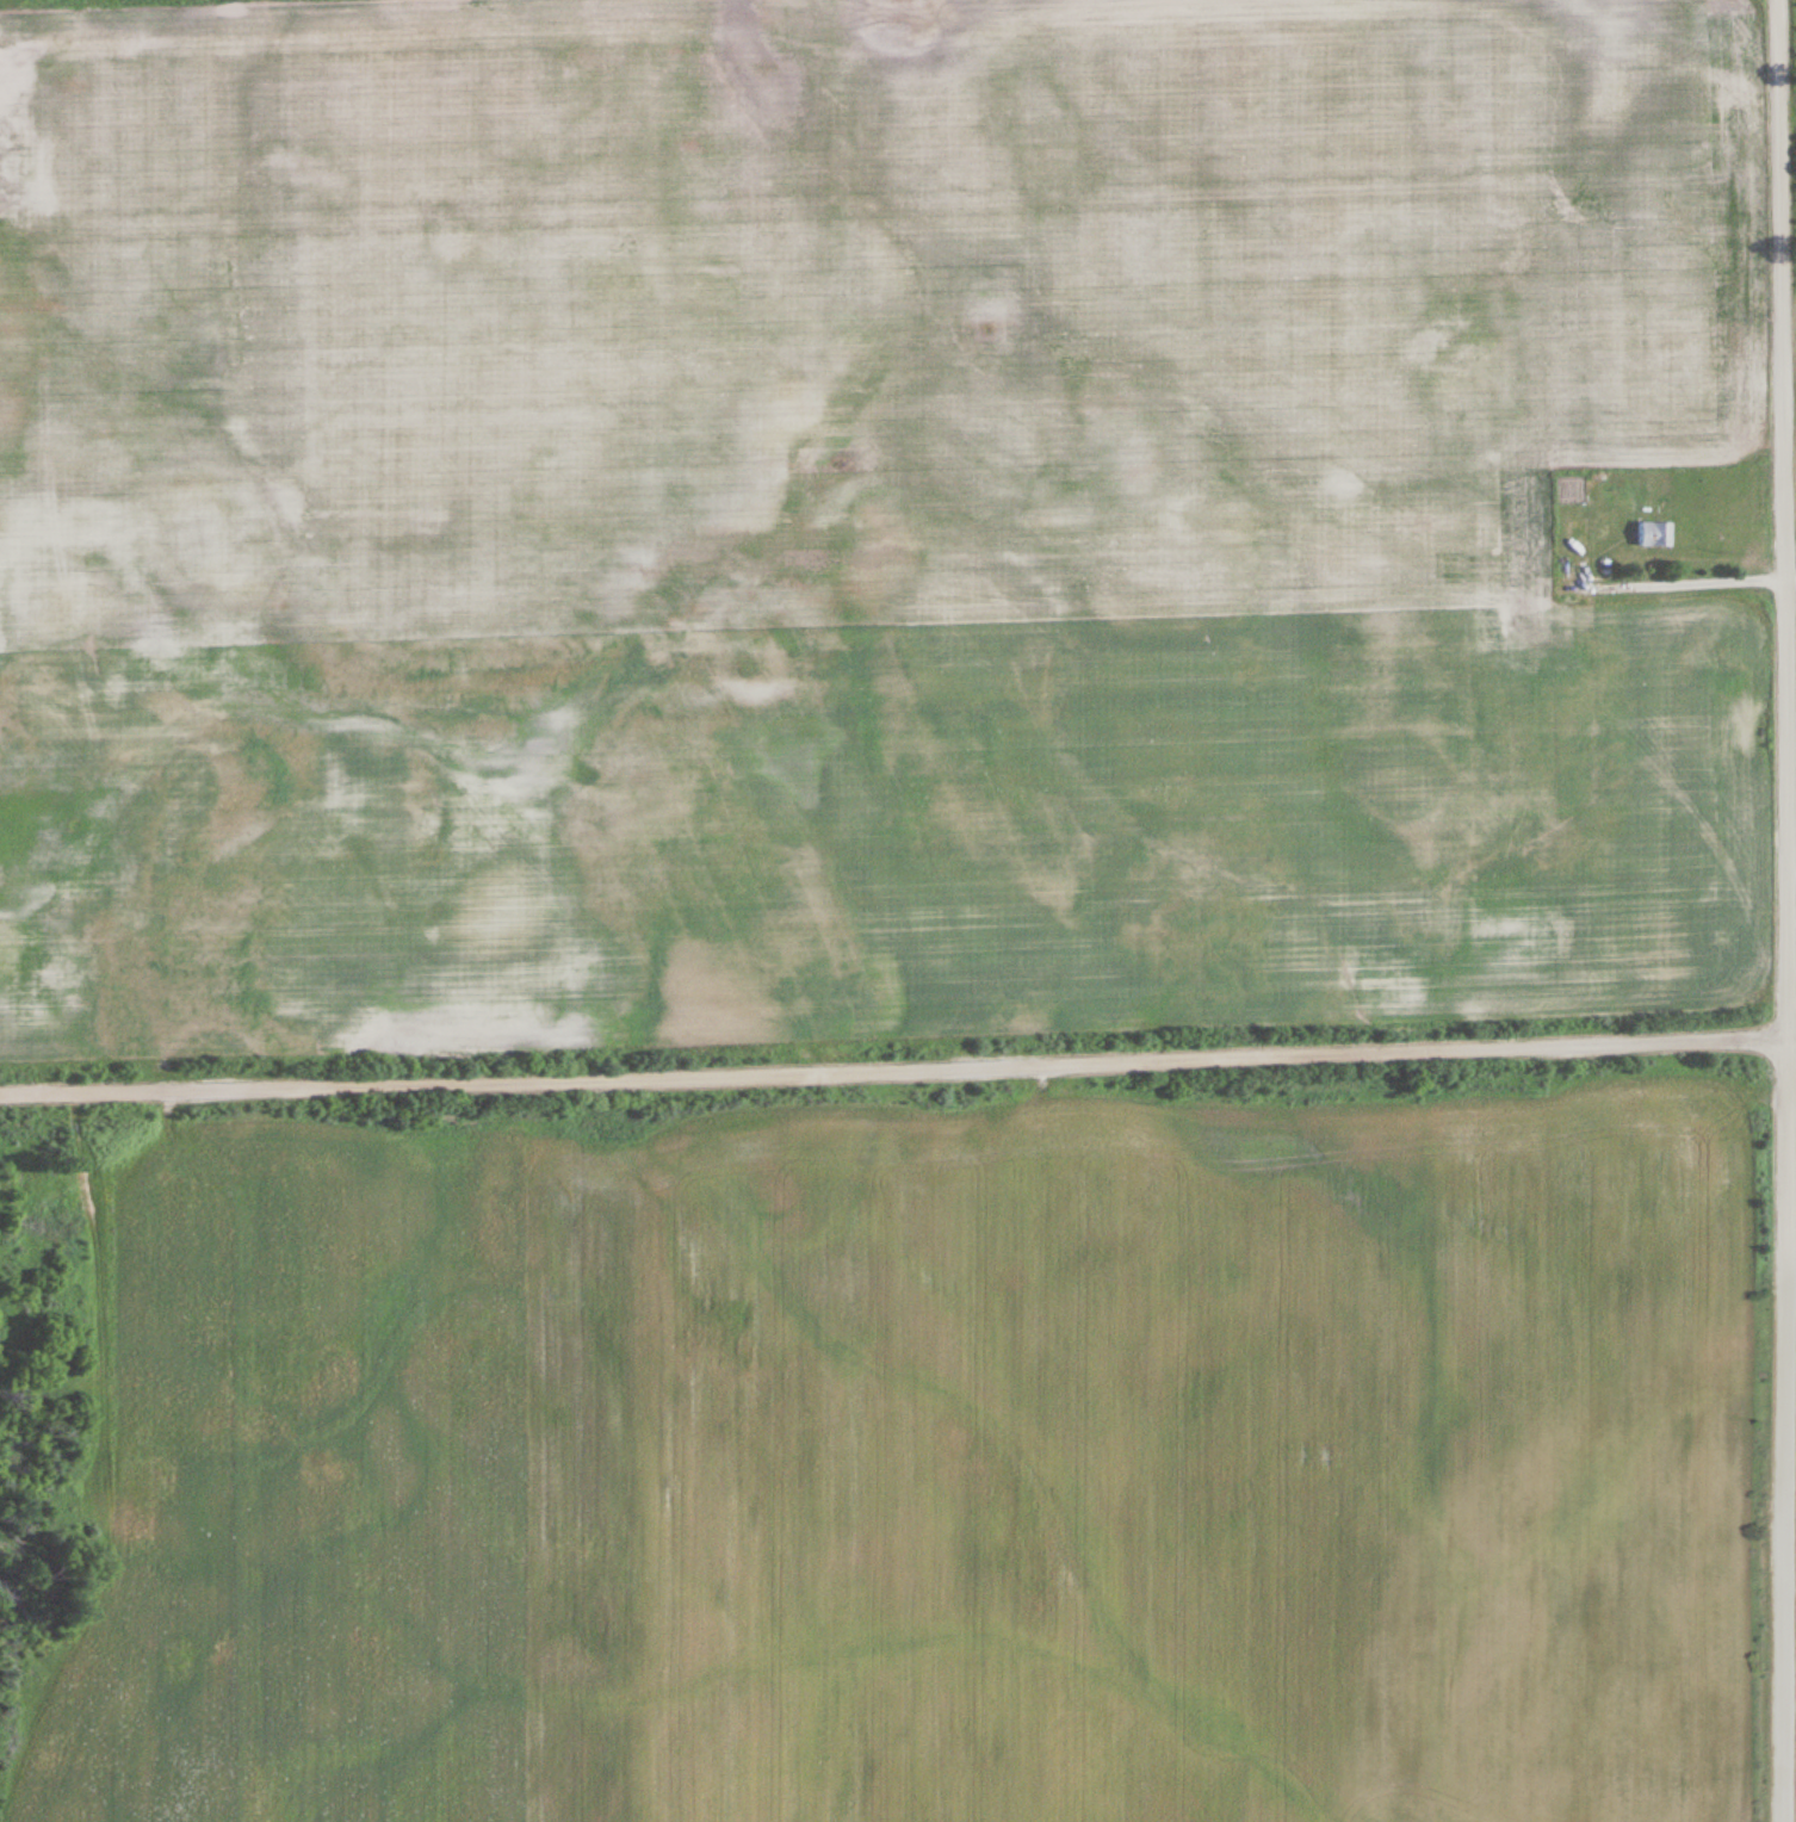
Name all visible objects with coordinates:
building: (1655, 533)
road: (1680, 582)
building: (1556, 619)
road: (1789, 910)
road: (898, 1065)

